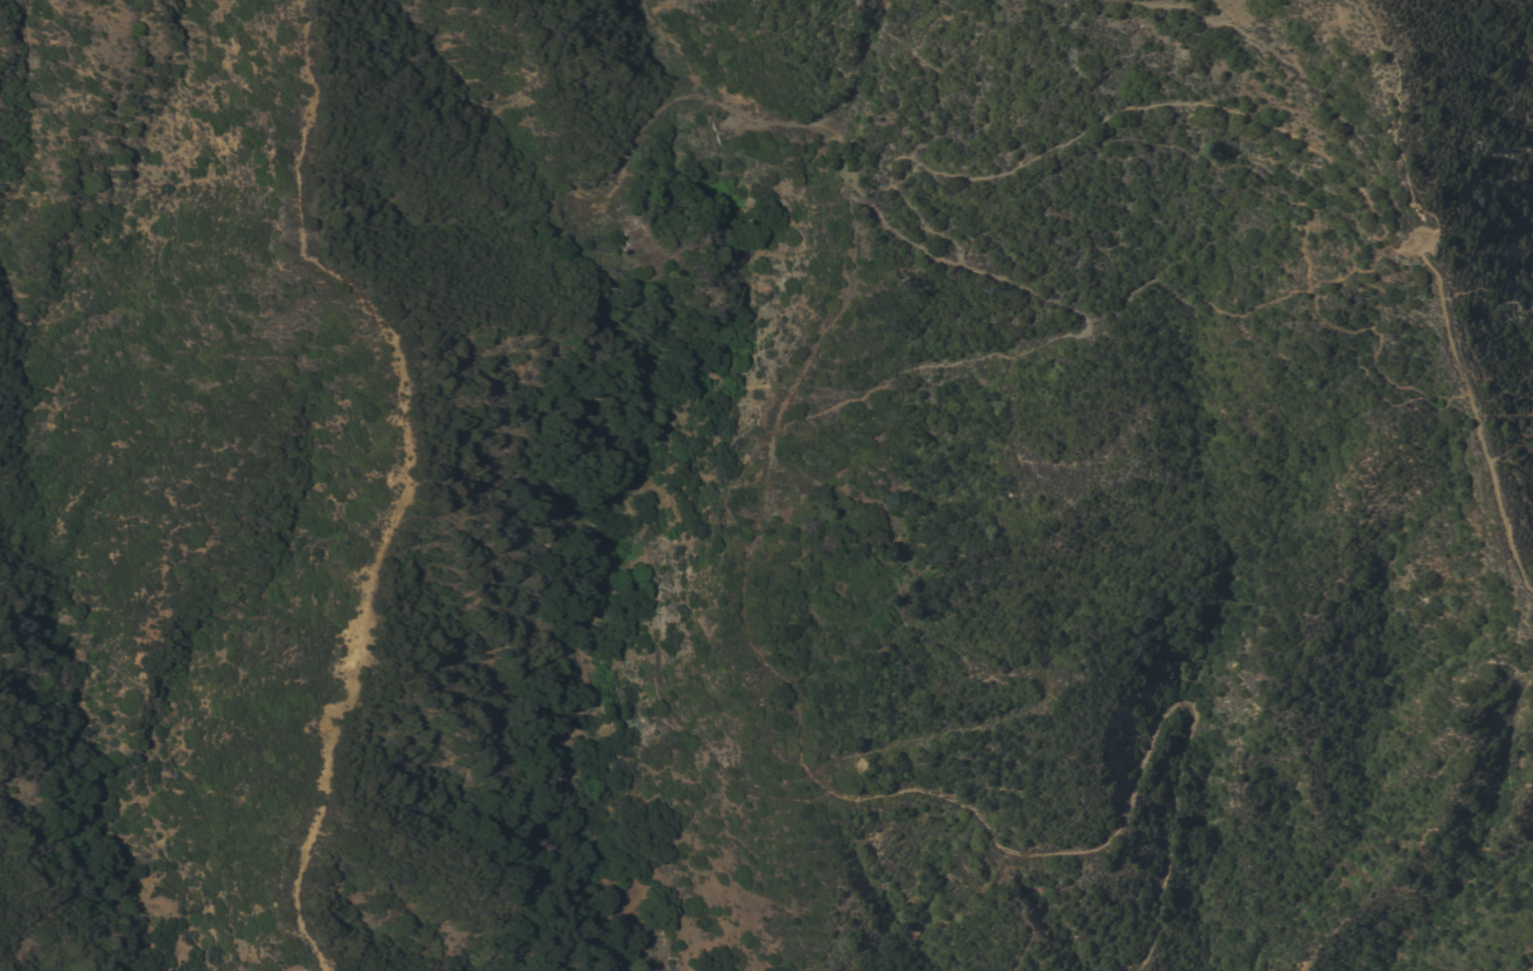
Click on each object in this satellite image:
park: (1486, 144)
road: (865, 796)
park: (1405, 813)
road: (646, 969)

